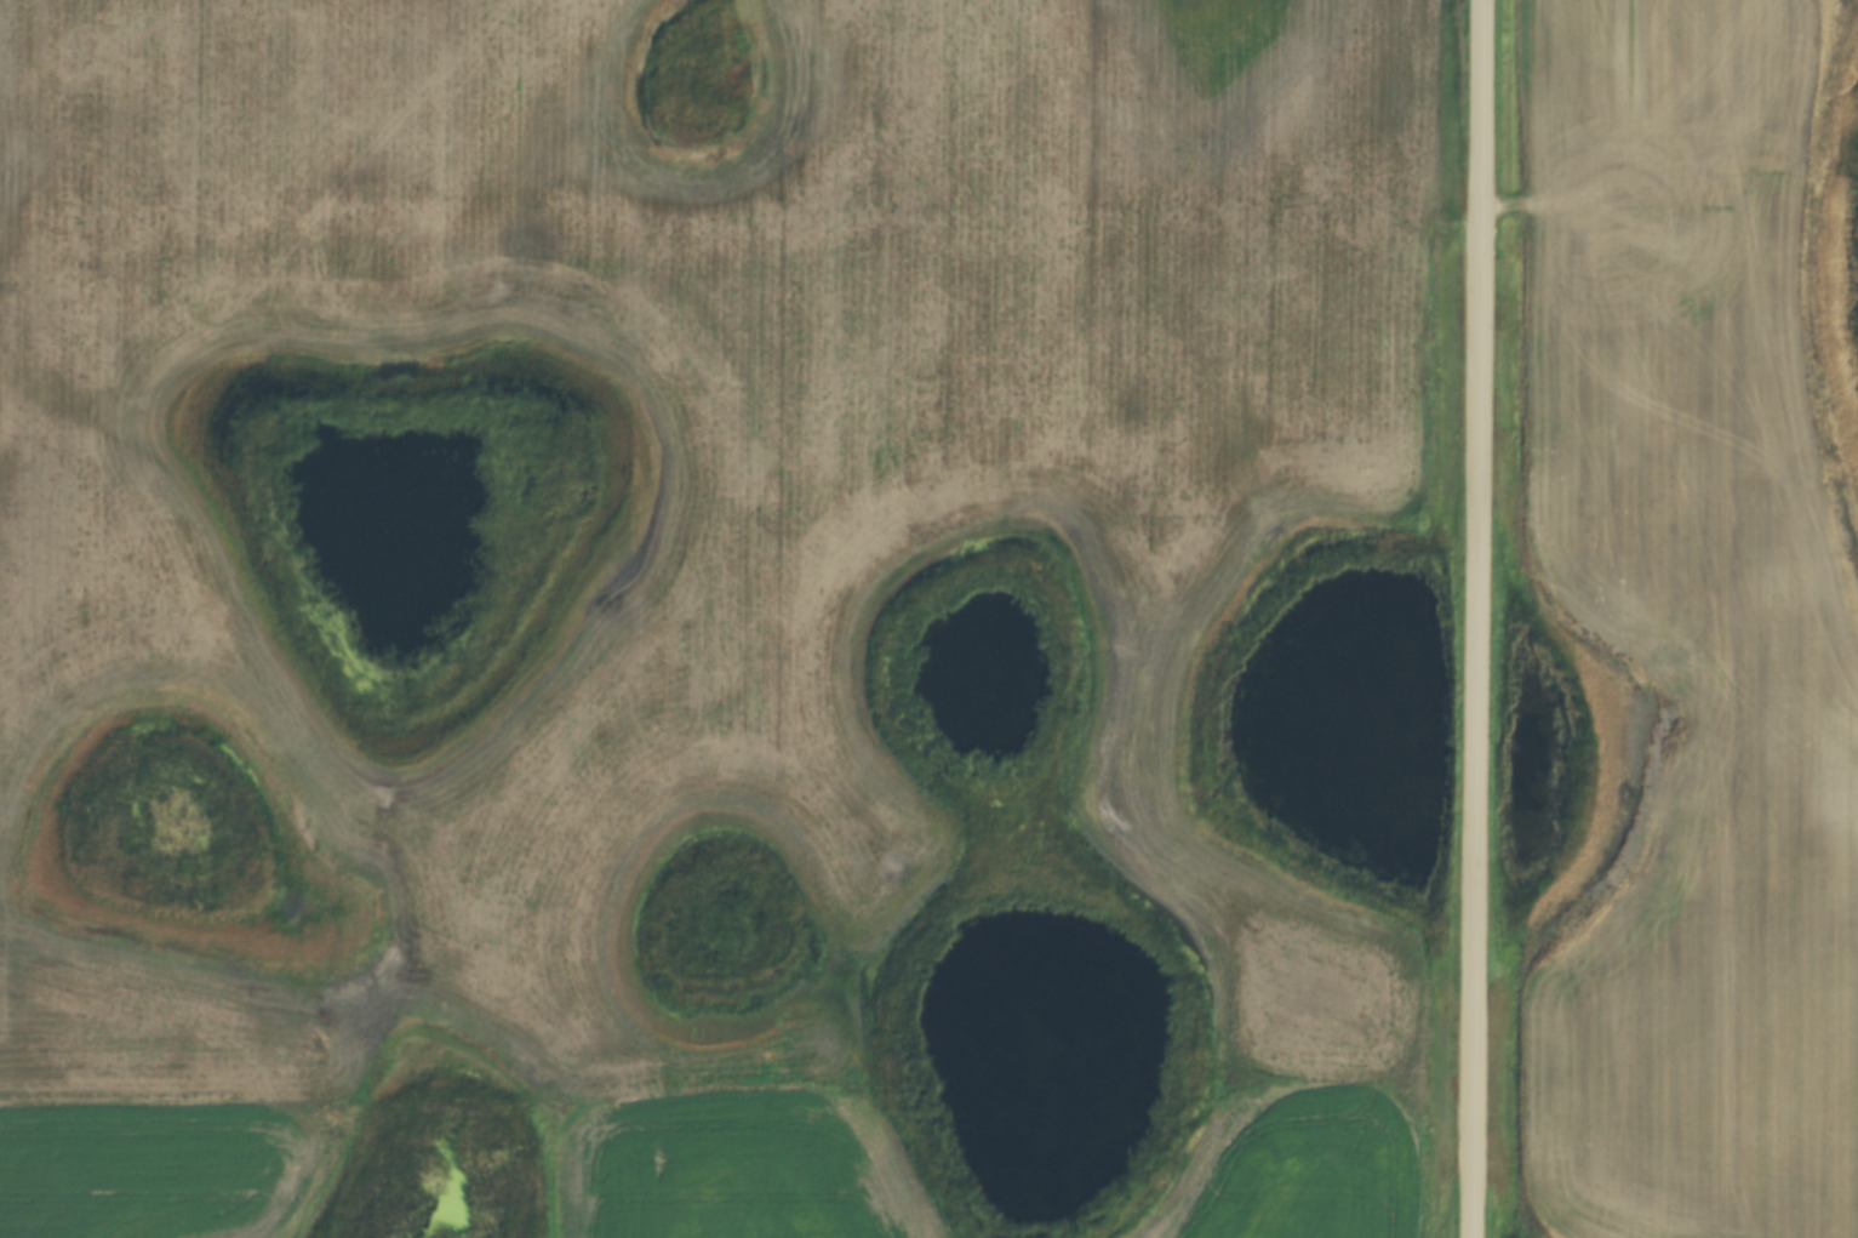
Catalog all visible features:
road: (1487, 618)

